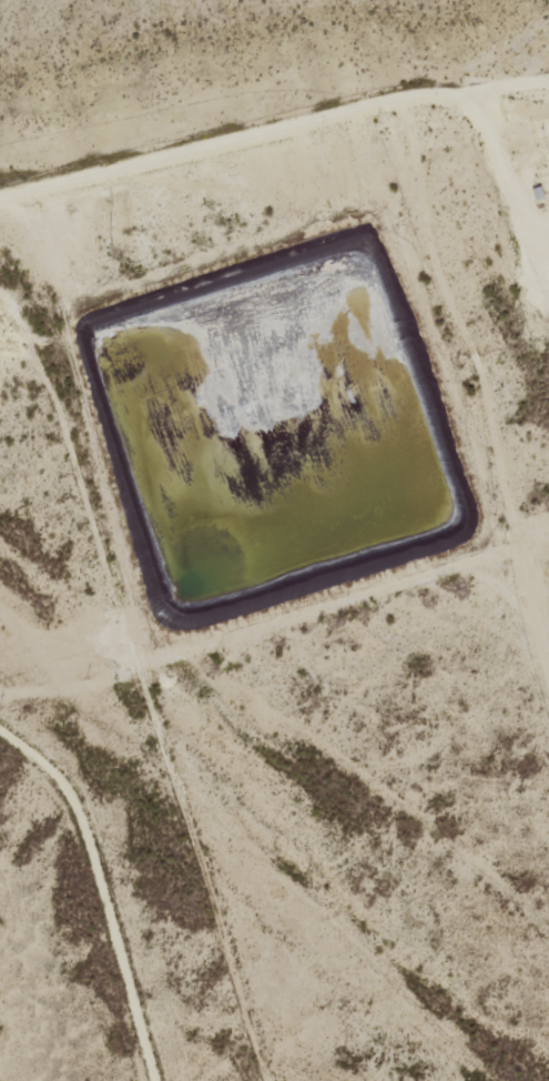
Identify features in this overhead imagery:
road: (274, 139)

